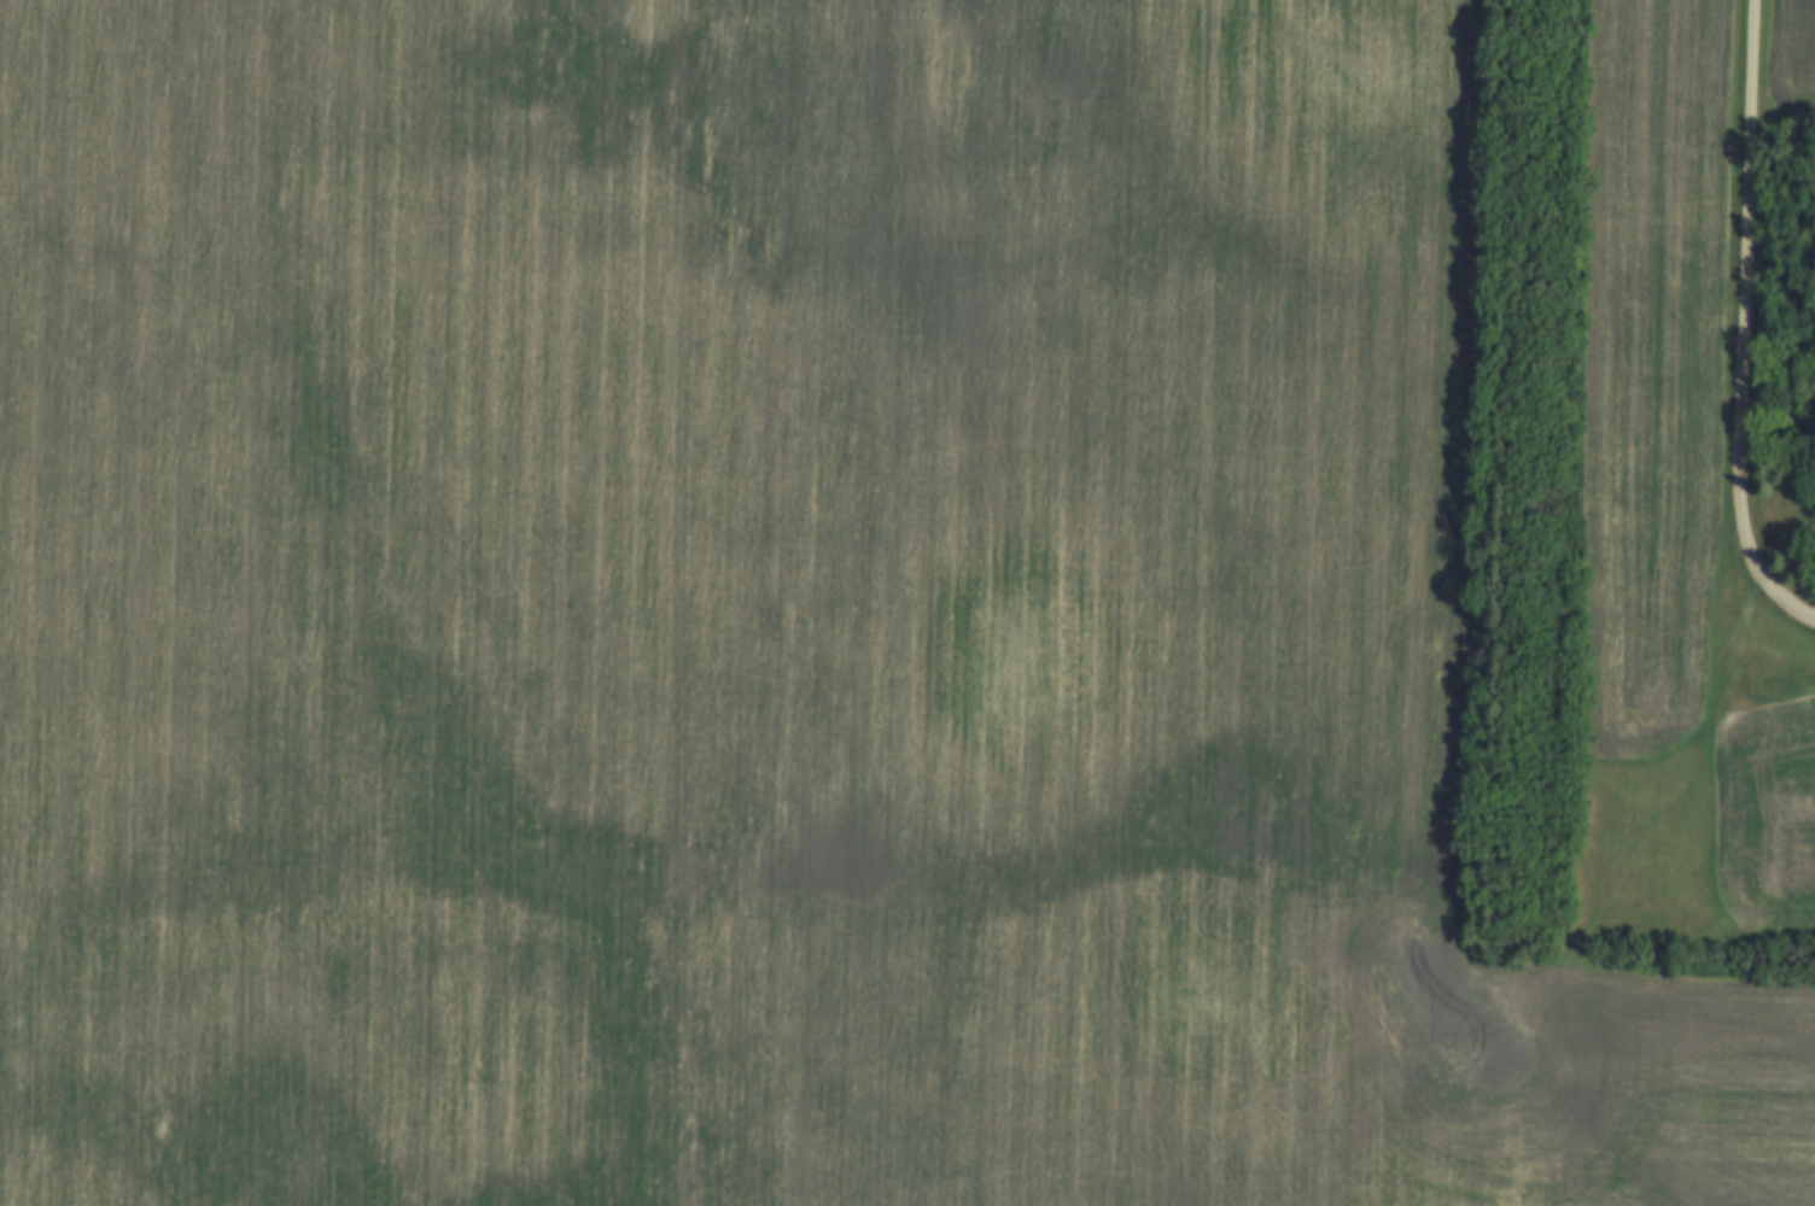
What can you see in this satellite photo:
road: (1747, 323)

